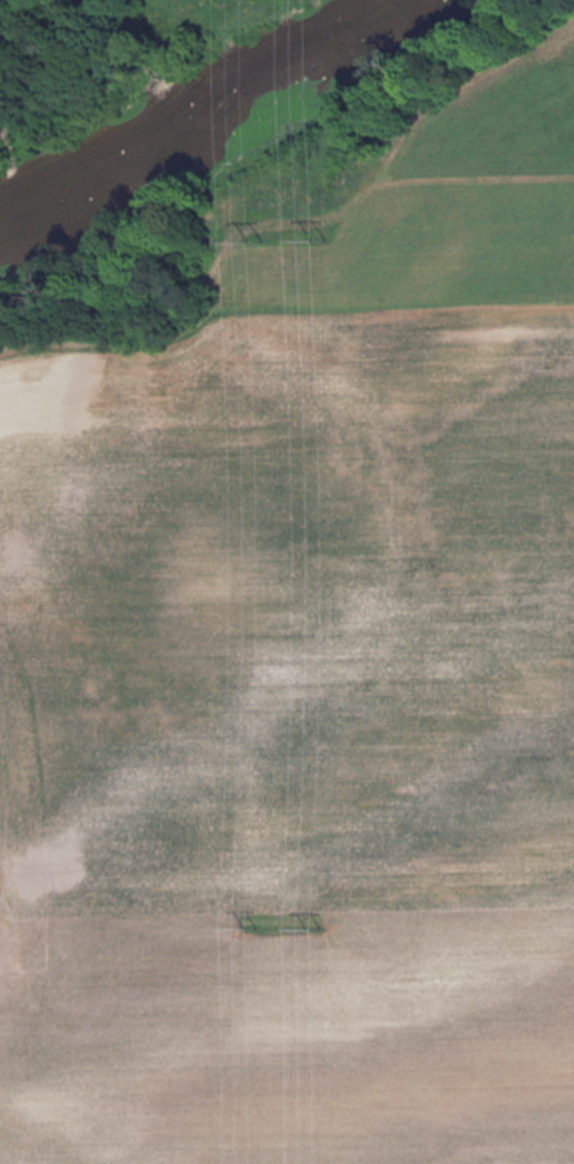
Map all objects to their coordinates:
river: (196, 101)
power tower: (247, 236)
power tower: (310, 236)
power tower: (245, 924)
power tower: (311, 926)

